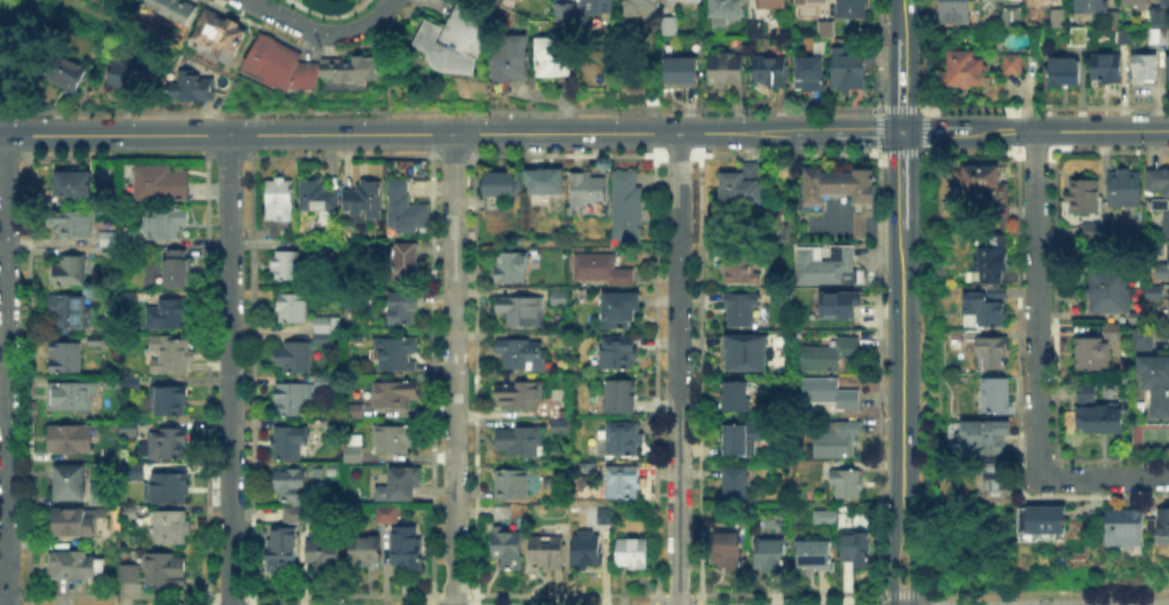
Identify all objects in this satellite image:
building: (812, 0)
building: (1164, 2)
building: (772, 4)
building: (995, 4)
building: (1137, 4)
building: (602, 6)
building: (643, 6)
building: (1092, 6)
building: (176, 9)
building: (726, 9)
building: (853, 9)
building: (564, 11)
building: (955, 11)
building: (1115, 15)
building: (1156, 15)
road: (900, 18)
building: (1010, 18)
building: (1055, 19)
building: (2, 22)
building: (673, 26)
building: (756, 30)
building: (828, 31)
road: (321, 33)
building: (219, 34)
building: (1079, 36)
building: (1120, 37)
building: (1158, 37)
building: (451, 41)
building: (554, 58)
building: (512, 60)
building: (1015, 63)
building: (285, 65)
building: (355, 67)
building: (726, 67)
building: (965, 69)
building: (1168, 69)
building: (677, 70)
building: (810, 70)
building: (1106, 70)
building: (1144, 70)
building: (63, 71)
building: (849, 71)
building: (122, 72)
building: (771, 72)
building: (1065, 75)
road: (900, 83)
building: (190, 89)
road: (72, 123)
road: (1066, 130)
road: (867, 131)
traffic signals: (901, 131)
road: (932, 131)
road: (417, 134)
road: (901, 179)
building: (546, 181)
building: (1158, 181)
building: (73, 184)
building: (161, 184)
building: (743, 184)
building: (987, 186)
building: (501, 187)
building: (586, 187)
building: (1124, 188)
building: (842, 192)
building: (319, 195)
building: (278, 197)
building: (364, 198)
building: (1085, 198)
building: (627, 206)
building: (1160, 206)
building: (405, 208)
building: (163, 223)
building: (1164, 223)
building: (72, 224)
building: (281, 225)
building: (1090, 229)
building: (784, 232)
building: (110, 240)
building: (304, 242)
building: (1155, 245)
building: (407, 258)
building: (989, 260)
building: (1167, 262)
building: (592, 265)
building: (288, 266)
building: (828, 266)
building: (740, 268)
building: (179, 269)
building: (512, 269)
building: (70, 271)
building: (622, 279)
building: (1154, 290)
building: (1110, 292)
building: (580, 300)
building: (558, 301)
building: (837, 303)
road: (1035, 307)
building: (404, 309)
building: (989, 309)
building: (291, 310)
building: (618, 310)
building: (741, 310)
building: (69, 311)
building: (520, 313)
building: (1168, 314)
building: (169, 315)
building: (1137, 316)
building: (322, 324)
building: (1111, 330)
building: (96, 339)
building: (322, 339)
building: (1143, 340)
building: (557, 343)
building: (743, 350)
building: (617, 353)
building: (994, 353)
building: (394, 354)
building: (520, 355)
building: (1093, 355)
building: (171, 356)
building: (295, 358)
building: (830, 358)
building: (65, 359)
road: (454, 368)
road: (5, 369)
road: (229, 369)
road: (677, 369)
road: (901, 374)
building: (1156, 382)
building: (322, 384)
building: (131, 385)
building: (1086, 392)
building: (393, 394)
building: (831, 394)
building: (289, 397)
building: (621, 397)
building: (996, 397)
building: (71, 398)
building: (520, 398)
building: (736, 398)
building: (168, 401)
building: (355, 408)
building: (1100, 419)
building: (559, 427)
building: (129, 430)
building: (987, 437)
building: (393, 438)
building: (621, 438)
building: (70, 439)
building: (743, 439)
building: (837, 439)
building: (291, 443)
building: (519, 443)
building: (169, 444)
building: (355, 445)
building: (578, 464)
building: (996, 474)
building: (136, 475)
road: (1107, 477)
building: (404, 482)
building: (736, 483)
building: (71, 484)
building: (290, 484)
building: (512, 484)
building: (623, 484)
building: (846, 484)
building: (169, 489)
building: (98, 493)
building: (383, 493)
building: (386, 513)
building: (500, 513)
building: (128, 514)
building: (297, 515)
building: (840, 516)
building: (598, 517)
building: (1020, 519)
building: (78, 522)
building: (1042, 523)
building: (1120, 524)
building: (1163, 527)
building: (171, 529)
building: (405, 545)
building: (282, 549)
building: (587, 549)
building: (727, 549)
building: (855, 549)
building: (507, 551)
building: (547, 551)
building: (323, 553)
building: (366, 553)
building: (634, 553)
building: (770, 554)
building: (815, 555)
road: (892, 564)
road: (912, 564)
building: (72, 566)
building: (167, 569)
building: (130, 575)

